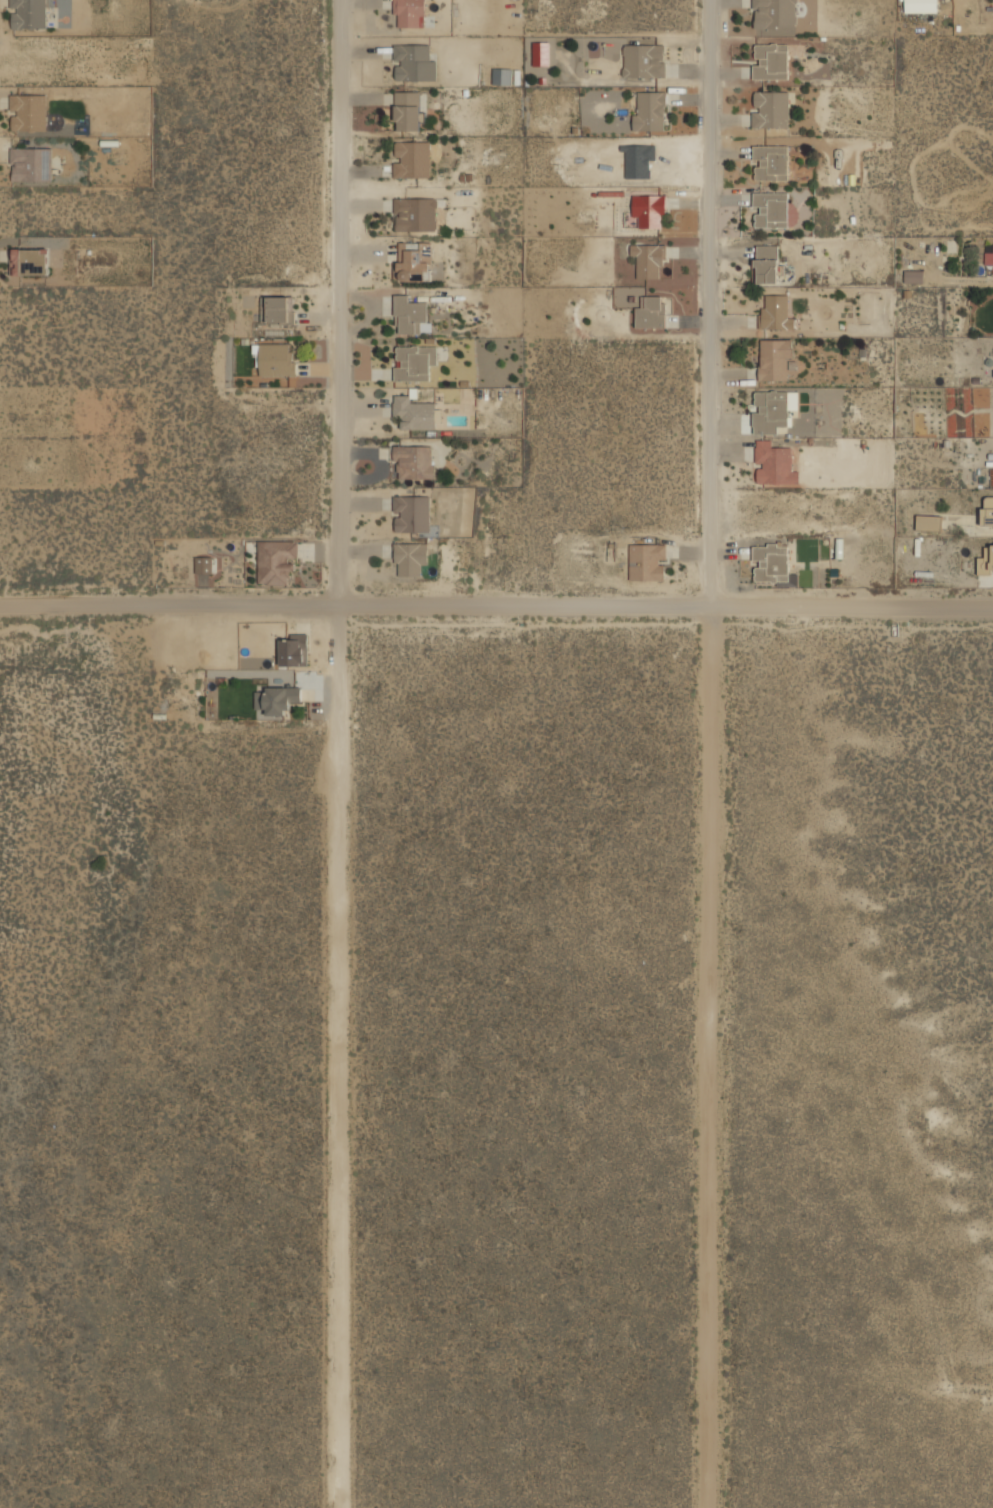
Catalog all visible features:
building: (920, 6)
building: (775, 13)
building: (28, 14)
building: (409, 14)
building: (540, 53)
building: (644, 60)
building: (771, 61)
building: (414, 63)
building: (501, 76)
building: (770, 109)
building: (408, 110)
building: (648, 110)
building: (28, 112)
building: (412, 158)
building: (771, 162)
building: (30, 165)
building: (771, 209)
building: (649, 210)
building: (415, 214)
building: (988, 258)
building: (648, 260)
building: (413, 261)
building: (31, 262)
building: (767, 264)
building: (914, 276)
building: (279, 309)
building: (650, 311)
building: (776, 312)
building: (408, 314)
building: (276, 359)
building: (776, 359)
building: (414, 361)
building: (773, 409)
building: (413, 412)
building: (413, 462)
building: (775, 465)
building: (987, 510)
building: (411, 514)
building: (929, 522)
building: (410, 558)
building: (276, 560)
building: (647, 561)
building: (985, 561)
building: (770, 562)
building: (203, 564)
road: (496, 605)
building: (294, 649)
building: (277, 699)
road: (337, 754)
road: (708, 754)

